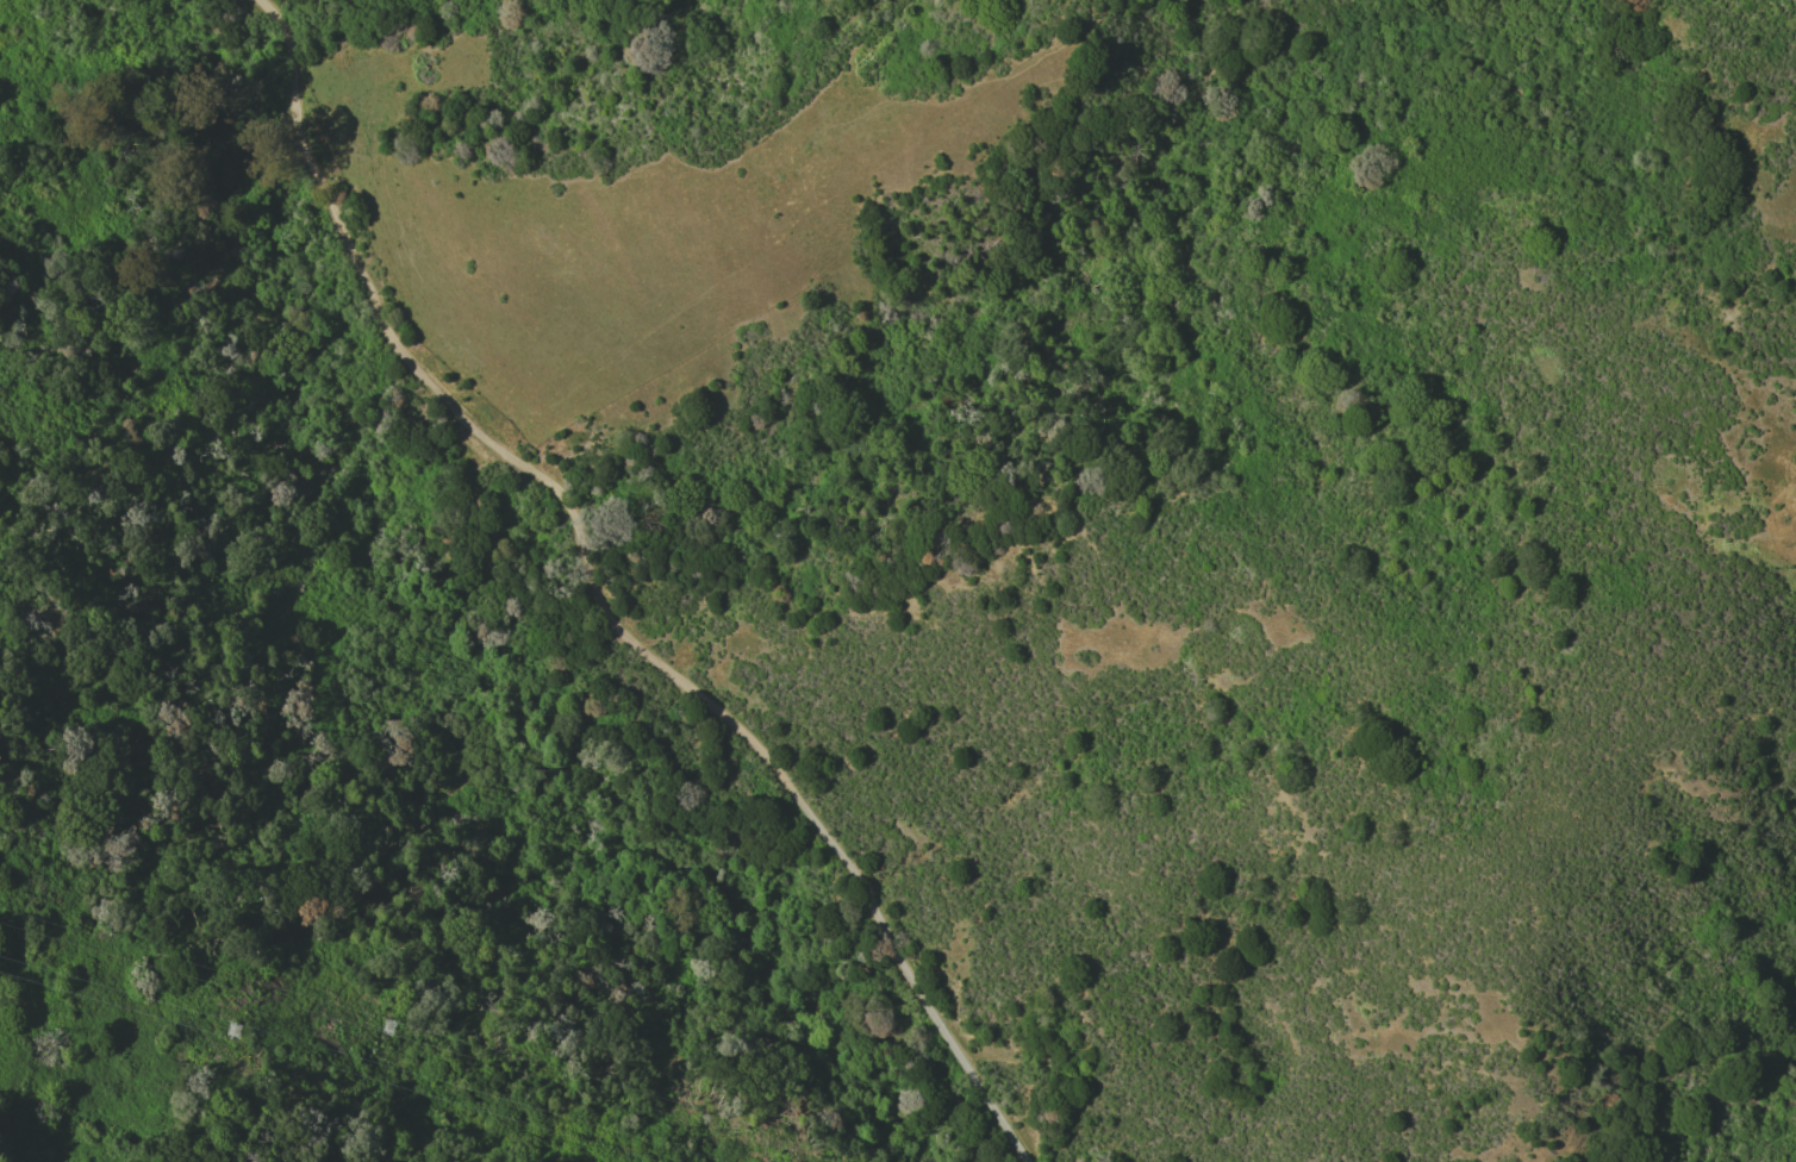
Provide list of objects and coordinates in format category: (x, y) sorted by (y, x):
road: (598, 599)
power tower: (393, 1029)
power tower: (232, 1031)

